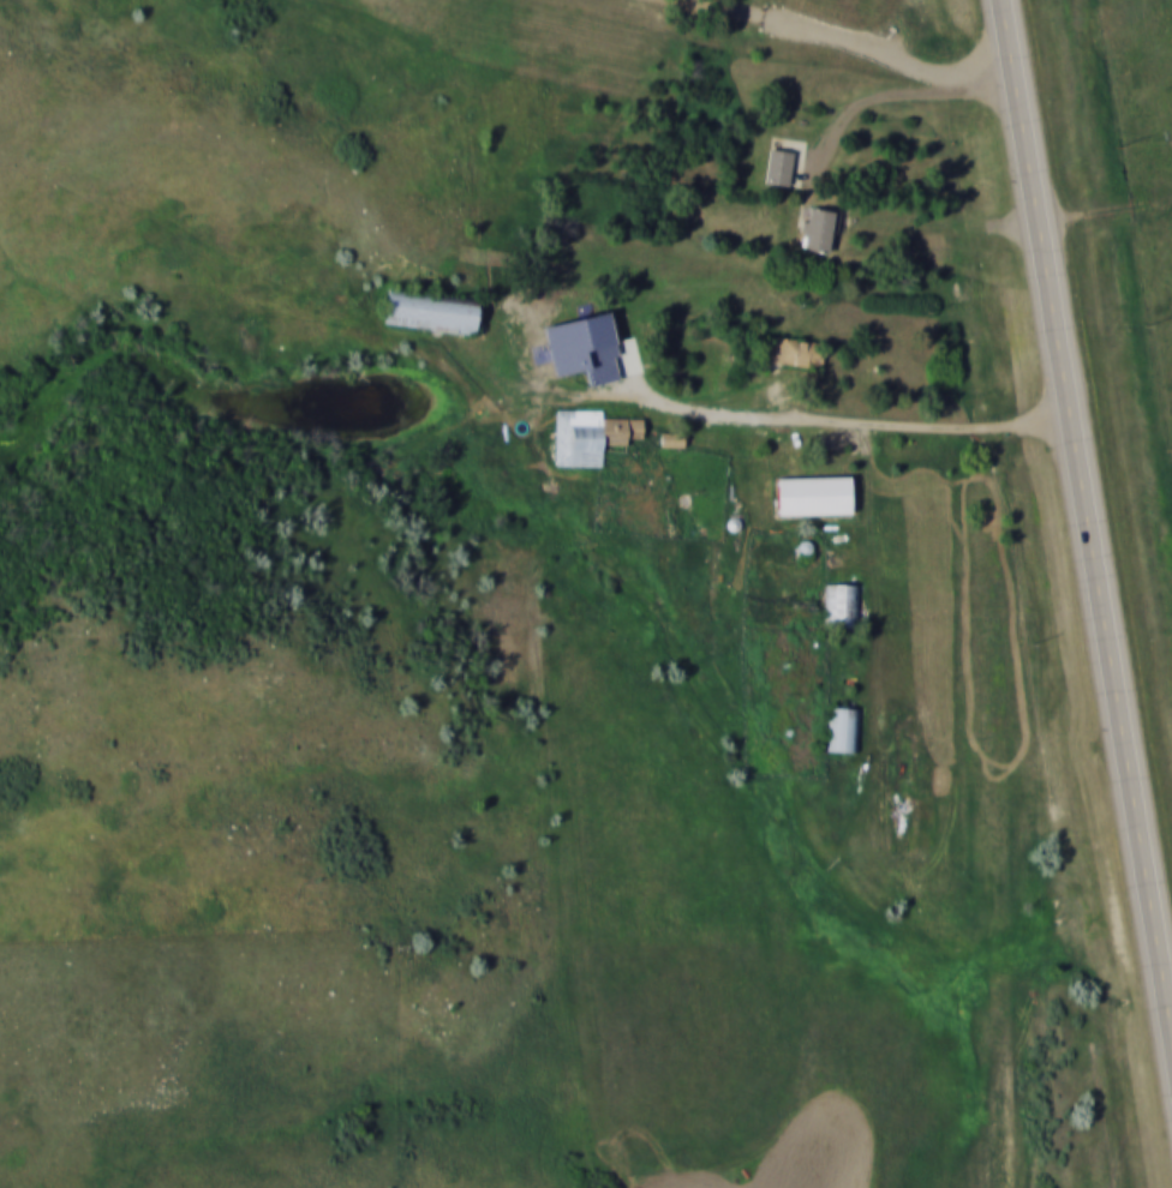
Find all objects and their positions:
road: (896, 92)
building: (778, 167)
road: (1030, 215)
road: (945, 224)
building: (818, 229)
building: (432, 310)
building: (794, 352)
road: (811, 416)
building: (591, 436)
building: (671, 439)
building: (842, 606)
building: (843, 728)
road: (1119, 736)
road: (965, 949)

